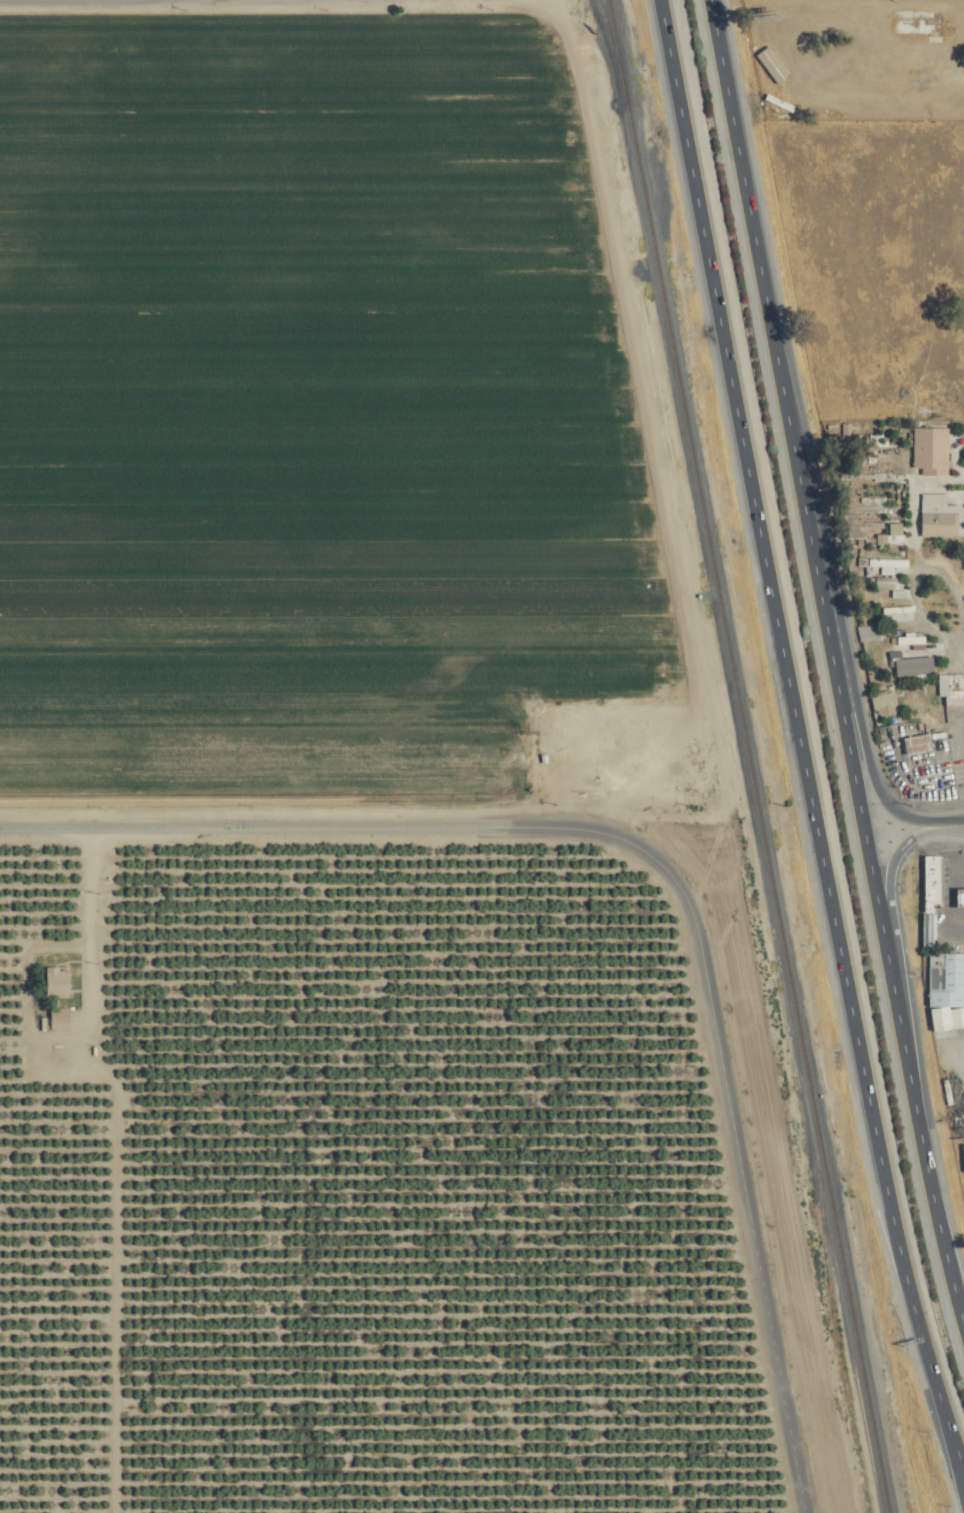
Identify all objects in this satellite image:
road: (547, 5)
building: (921, 27)
railway: (615, 33)
building: (787, 73)
building: (859, 103)
road: (763, 254)
road: (747, 427)
building: (936, 451)
road: (663, 457)
building: (885, 507)
building: (941, 516)
building: (898, 533)
building: (887, 563)
building: (893, 586)
building: (904, 613)
building: (872, 632)
building: (913, 640)
building: (916, 667)
road: (840, 672)
building: (953, 690)
road: (857, 695)
building: (888, 704)
building: (919, 744)
railway: (753, 756)
road: (362, 830)
building: (935, 880)
building: (960, 898)
building: (930, 930)
road: (899, 933)
building: (947, 979)
building: (56, 981)
building: (60, 1019)
road: (915, 1079)
road: (880, 1148)
road: (750, 1209)
railway: (838, 1312)
road: (958, 1452)
road: (958, 1465)

